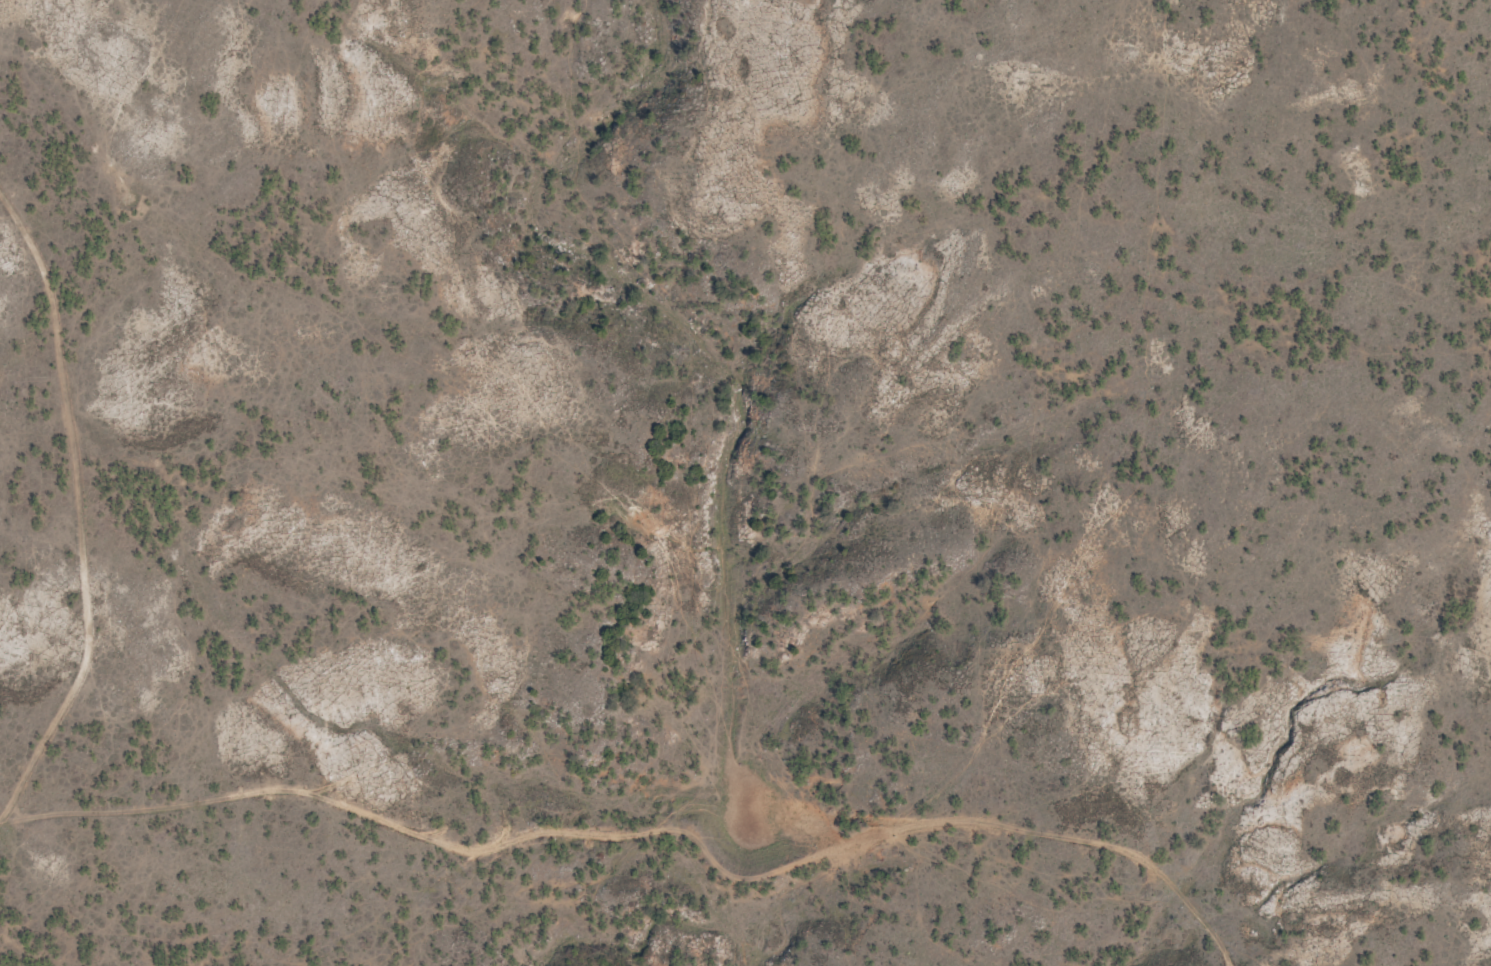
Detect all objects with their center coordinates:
road: (623, 872)

